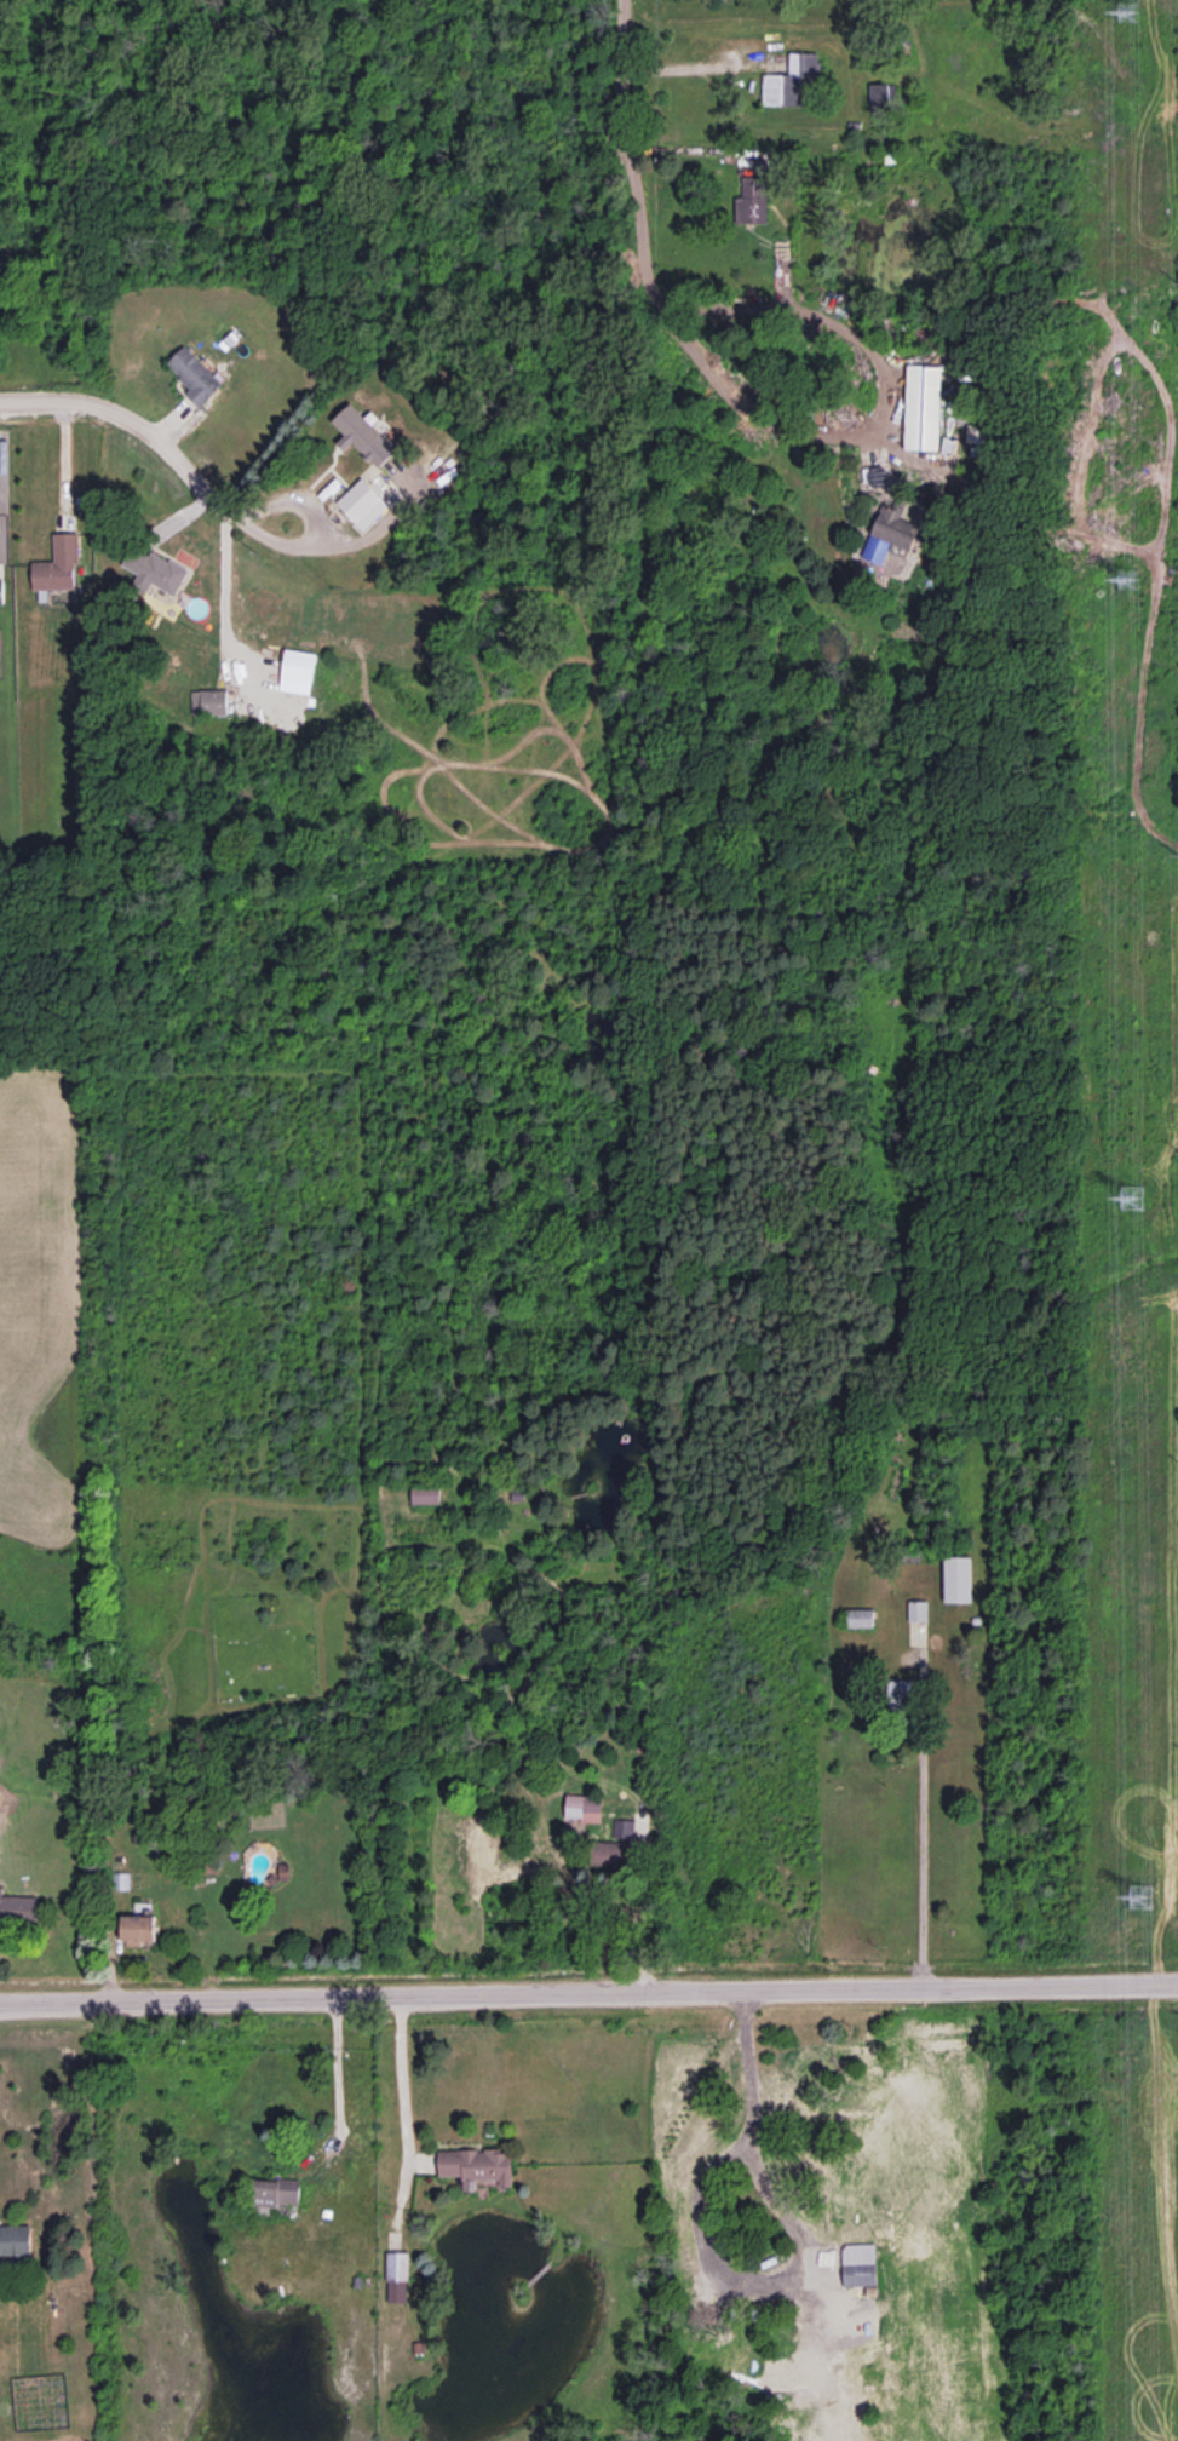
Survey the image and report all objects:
power tower: (1128, 10)
road: (620, 56)
building: (792, 82)
building: (879, 96)
building: (751, 200)
building: (194, 374)
road: (50, 398)
building: (923, 407)
road: (793, 432)
building: (976, 432)
building: (362, 435)
road: (65, 463)
road: (188, 472)
building: (361, 504)
building: (887, 533)
building: (58, 563)
building: (154, 569)
power tower: (1127, 578)
road: (220, 582)
building: (1, 591)
building: (298, 664)
building: (208, 701)
power tower: (1130, 1197)
building: (425, 1493)
building: (956, 1578)
building: (918, 1609)
building: (858, 1618)
building: (900, 1687)
building: (582, 1807)
building: (622, 1827)
building: (613, 1854)
road: (923, 1859)
power tower: (1139, 1896)
building: (17, 1906)
road: (643, 1918)
building: (137, 1929)
road: (588, 1993)
road: (401, 2078)
building: (476, 2165)
building: (276, 2192)
building: (15, 2240)
building: (864, 2274)
building: (396, 2276)

